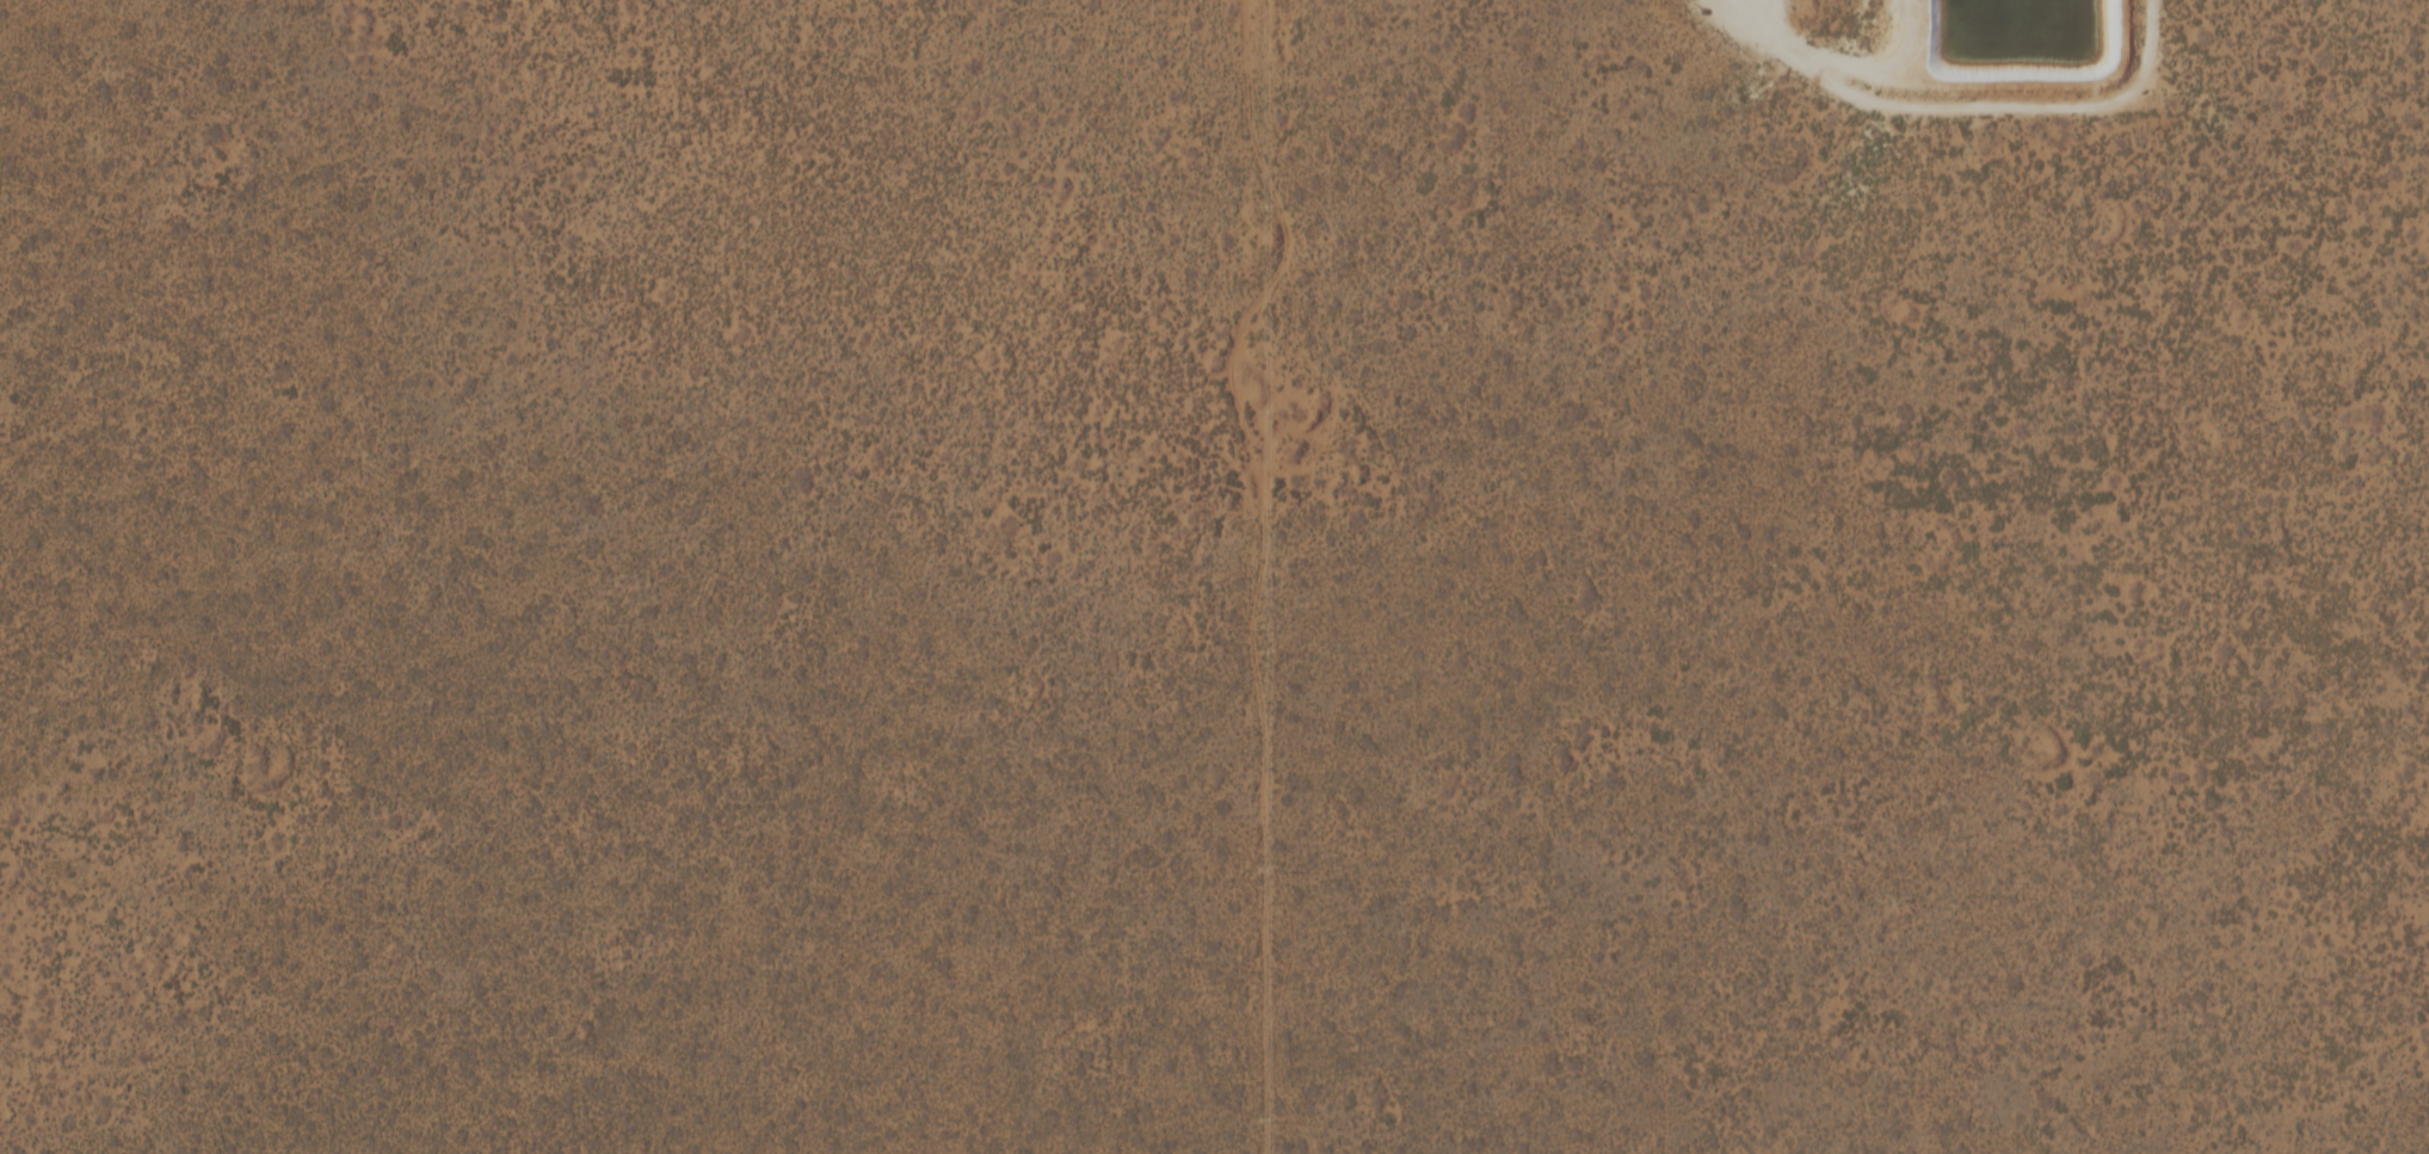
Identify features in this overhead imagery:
road: (2140, 41)

